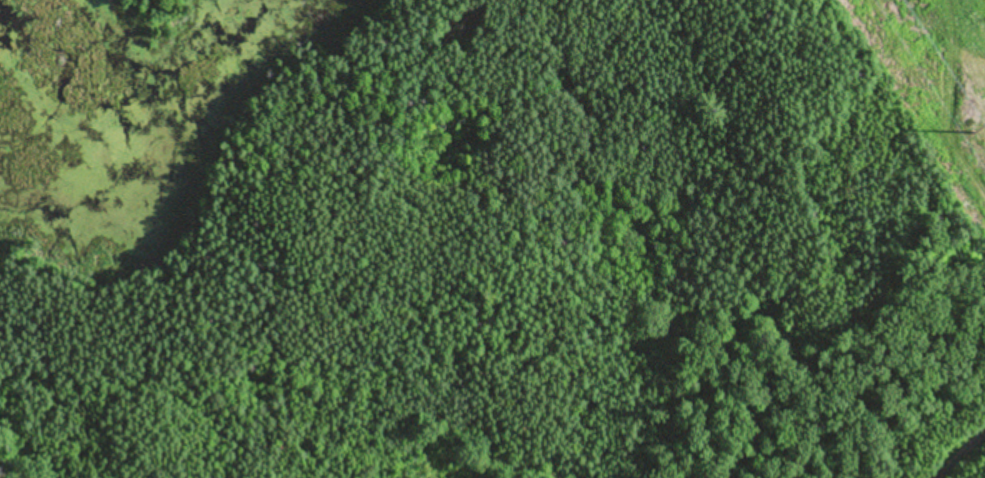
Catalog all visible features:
power tower: (973, 129)
road: (960, 455)

